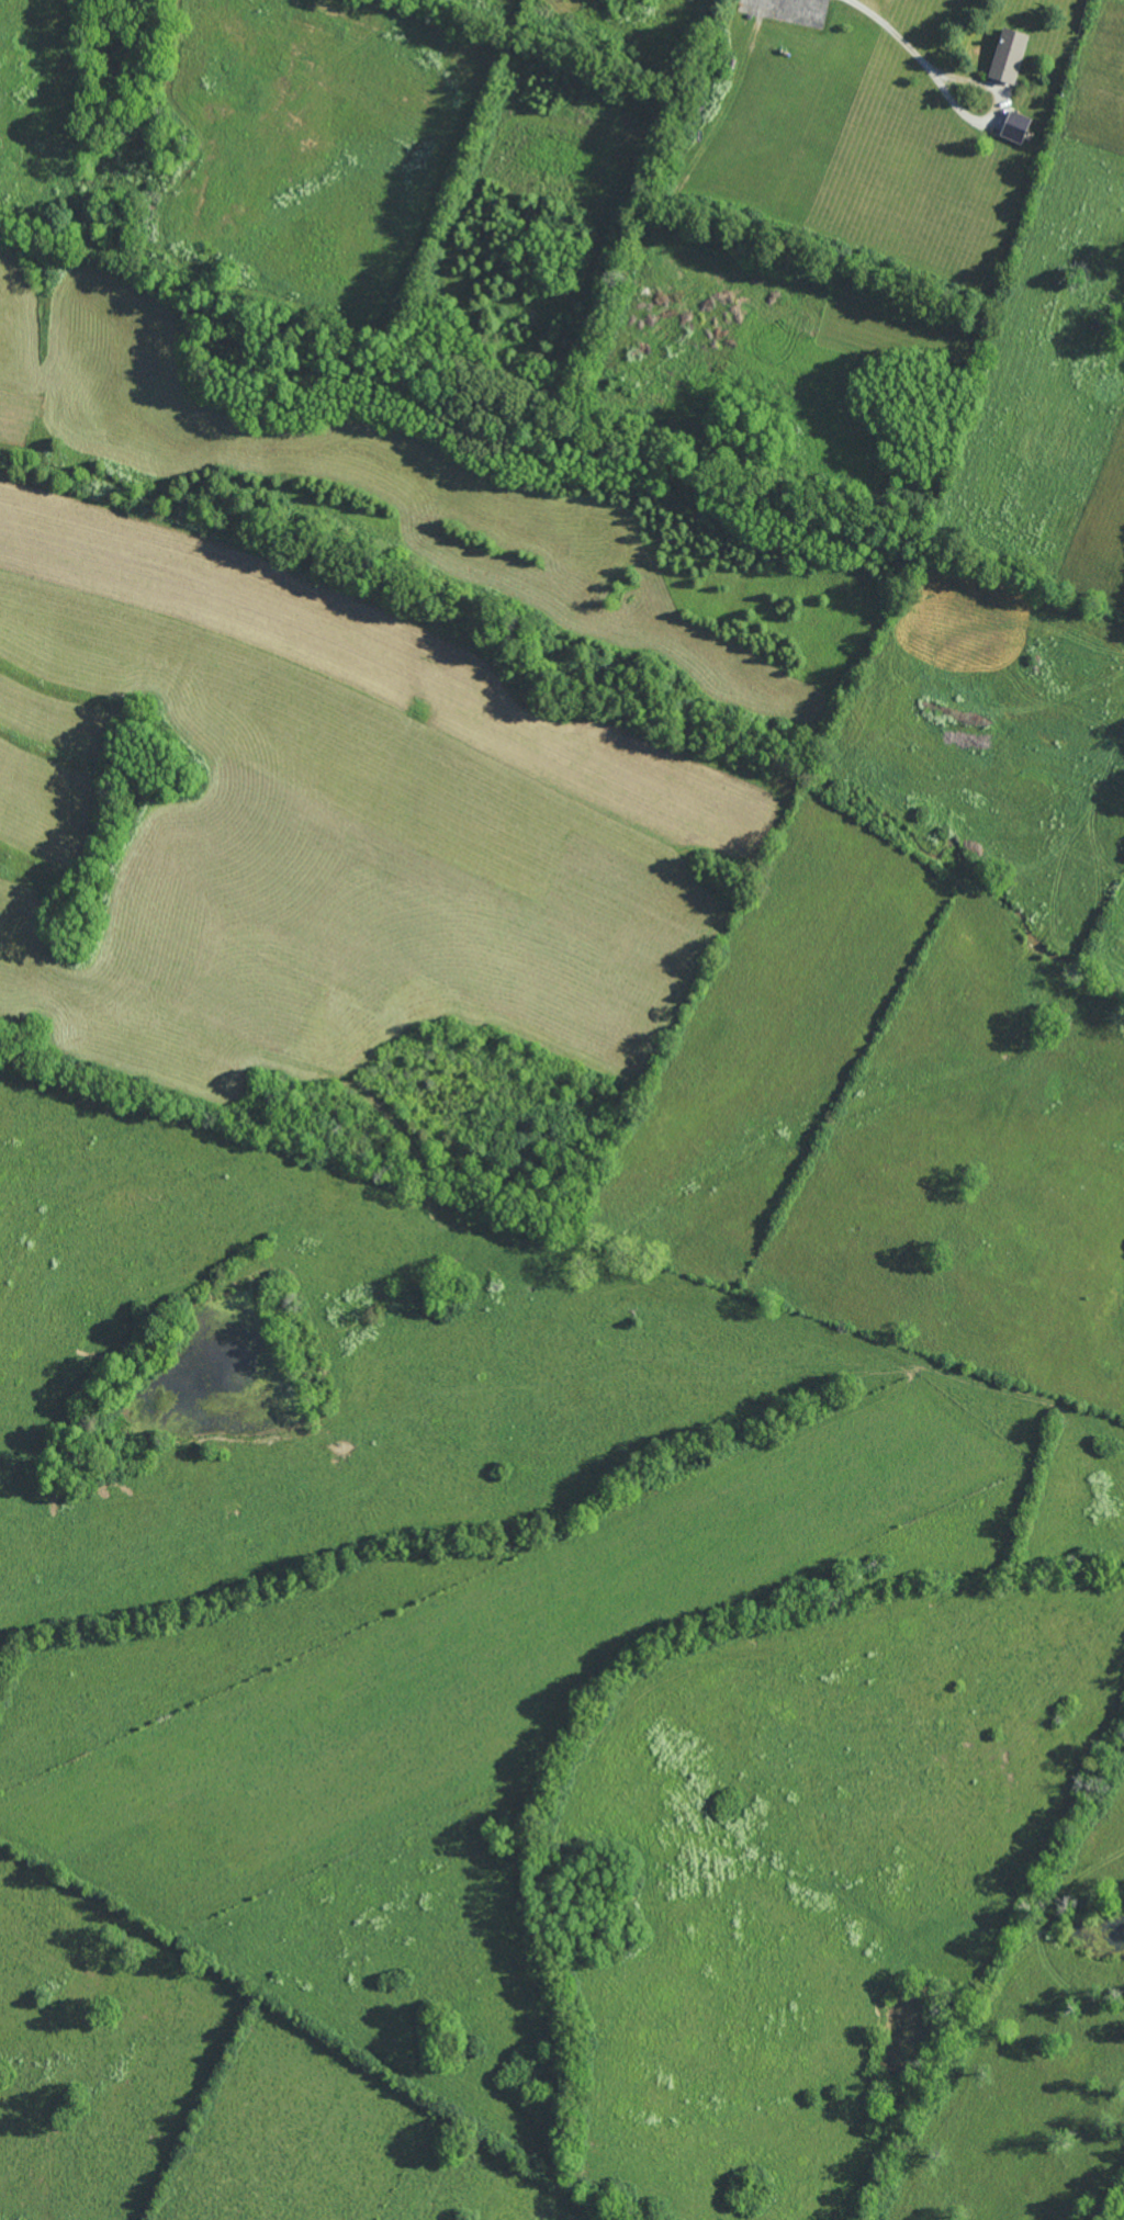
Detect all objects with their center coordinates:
road: (895, 35)
building: (1009, 55)
road: (998, 112)
building: (1016, 126)

